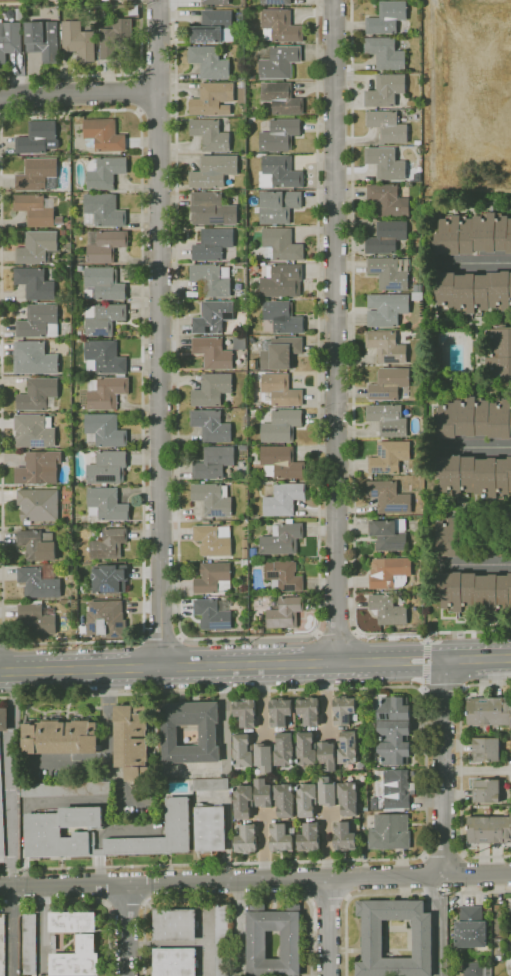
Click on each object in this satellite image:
building: (215, 2)
building: (276, 2)
building: (19, 14)
building: (387, 17)
building: (212, 26)
building: (280, 26)
building: (115, 37)
building: (10, 39)
building: (43, 40)
building: (78, 40)
building: (385, 53)
building: (210, 62)
building: (279, 62)
road: (104, 75)
building: (385, 90)
road: (138, 91)
road: (79, 92)
building: (242, 95)
building: (281, 98)
building: (212, 99)
road: (10, 115)
road: (1, 116)
building: (415, 116)
building: (388, 126)
building: (210, 134)
building: (280, 135)
building: (103, 136)
building: (38, 138)
building: (417, 142)
building: (386, 163)
building: (213, 171)
building: (105, 172)
building: (279, 172)
building: (38, 174)
building: (388, 200)
building: (279, 206)
building: (211, 209)
building: (37, 210)
building: (103, 210)
building: (69, 225)
building: (63, 233)
building: (474, 234)
building: (387, 237)
building: (213, 243)
building: (105, 245)
building: (281, 245)
building: (38, 247)
building: (67, 247)
building: (263, 263)
road: (478, 263)
building: (52, 264)
building: (80, 268)
building: (390, 272)
building: (213, 279)
building: (282, 280)
building: (35, 283)
building: (104, 284)
building: (418, 288)
building: (474, 291)
building: (240, 294)
building: (417, 296)
building: (387, 309)
building: (213, 316)
building: (282, 317)
building: (103, 318)
building: (39, 321)
road: (335, 331)
road: (160, 333)
building: (240, 343)
building: (387, 346)
building: (280, 352)
building: (213, 353)
building: (500, 354)
building: (440, 356)
building: (104, 357)
building: (34, 358)
building: (389, 383)
building: (212, 389)
building: (279, 391)
building: (106, 392)
road: (354, 392)
building: (39, 394)
building: (474, 418)
building: (388, 419)
building: (211, 425)
building: (281, 426)
building: (104, 430)
building: (34, 431)
building: (243, 447)
road: (476, 449)
building: (389, 457)
building: (213, 462)
building: (281, 462)
building: (39, 468)
building: (107, 468)
building: (474, 476)
building: (389, 497)
building: (213, 499)
building: (284, 499)
building: (107, 504)
building: (39, 505)
building: (389, 535)
building: (454, 537)
building: (282, 538)
building: (213, 539)
building: (109, 543)
building: (245, 543)
building: (37, 544)
building: (492, 544)
building: (253, 552)
building: (244, 553)
building: (252, 561)
building: (244, 563)
road: (480, 567)
building: (389, 573)
building: (284, 576)
building: (108, 577)
building: (213, 578)
building: (40, 581)
building: (474, 592)
building: (388, 610)
building: (285, 612)
building: (213, 614)
building: (37, 619)
building: (105, 619)
building: (257, 630)
road: (356, 632)
road: (316, 633)
road: (337, 634)
road: (428, 635)
road: (181, 637)
road: (247, 637)
road: (137, 640)
road: (160, 640)
road: (6, 641)
road: (2, 643)
road: (426, 662)
road: (255, 664)
road: (443, 686)
road: (462, 686)
road: (426, 690)
road: (326, 699)
road: (263, 700)
building: (394, 708)
building: (309, 710)
building: (344, 710)
building: (280, 711)
building: (489, 711)
building: (245, 712)
building: (4, 719)
building: (208, 735)
building: (60, 736)
building: (134, 742)
building: (394, 742)
road: (108, 745)
building: (348, 747)
building: (242, 749)
building: (284, 749)
building: (306, 749)
building: (486, 749)
building: (327, 755)
building: (264, 757)
road: (68, 761)
road: (443, 766)
road: (461, 770)
road: (477, 770)
road: (426, 771)
building: (222, 776)
building: (228, 776)
road: (9, 778)
building: (210, 784)
building: (65, 788)
building: (396, 789)
building: (486, 791)
building: (327, 792)
building: (263, 793)
building: (348, 799)
building: (284, 800)
building: (307, 800)
building: (243, 801)
building: (374, 803)
building: (1, 815)
building: (50, 827)
building: (210, 829)
building: (489, 829)
building: (389, 832)
building: (344, 837)
building: (309, 838)
building: (247, 839)
building: (281, 839)
road: (327, 846)
road: (263, 847)
road: (443, 853)
road: (255, 881)
road: (427, 894)
road: (228, 899)
road: (88, 901)
building: (509, 902)
road: (328, 906)
road: (12, 907)
building: (73, 922)
road: (441, 924)
building: (509, 924)
building: (175, 925)
road: (328, 928)
building: (471, 928)
road: (125, 930)
building: (372, 939)
building: (222, 940)
road: (347, 940)
building: (54, 943)
building: (30, 944)
building: (2, 945)
building: (257, 945)
road: (11, 951)
building: (77, 959)
building: (175, 962)
building: (473, 969)

